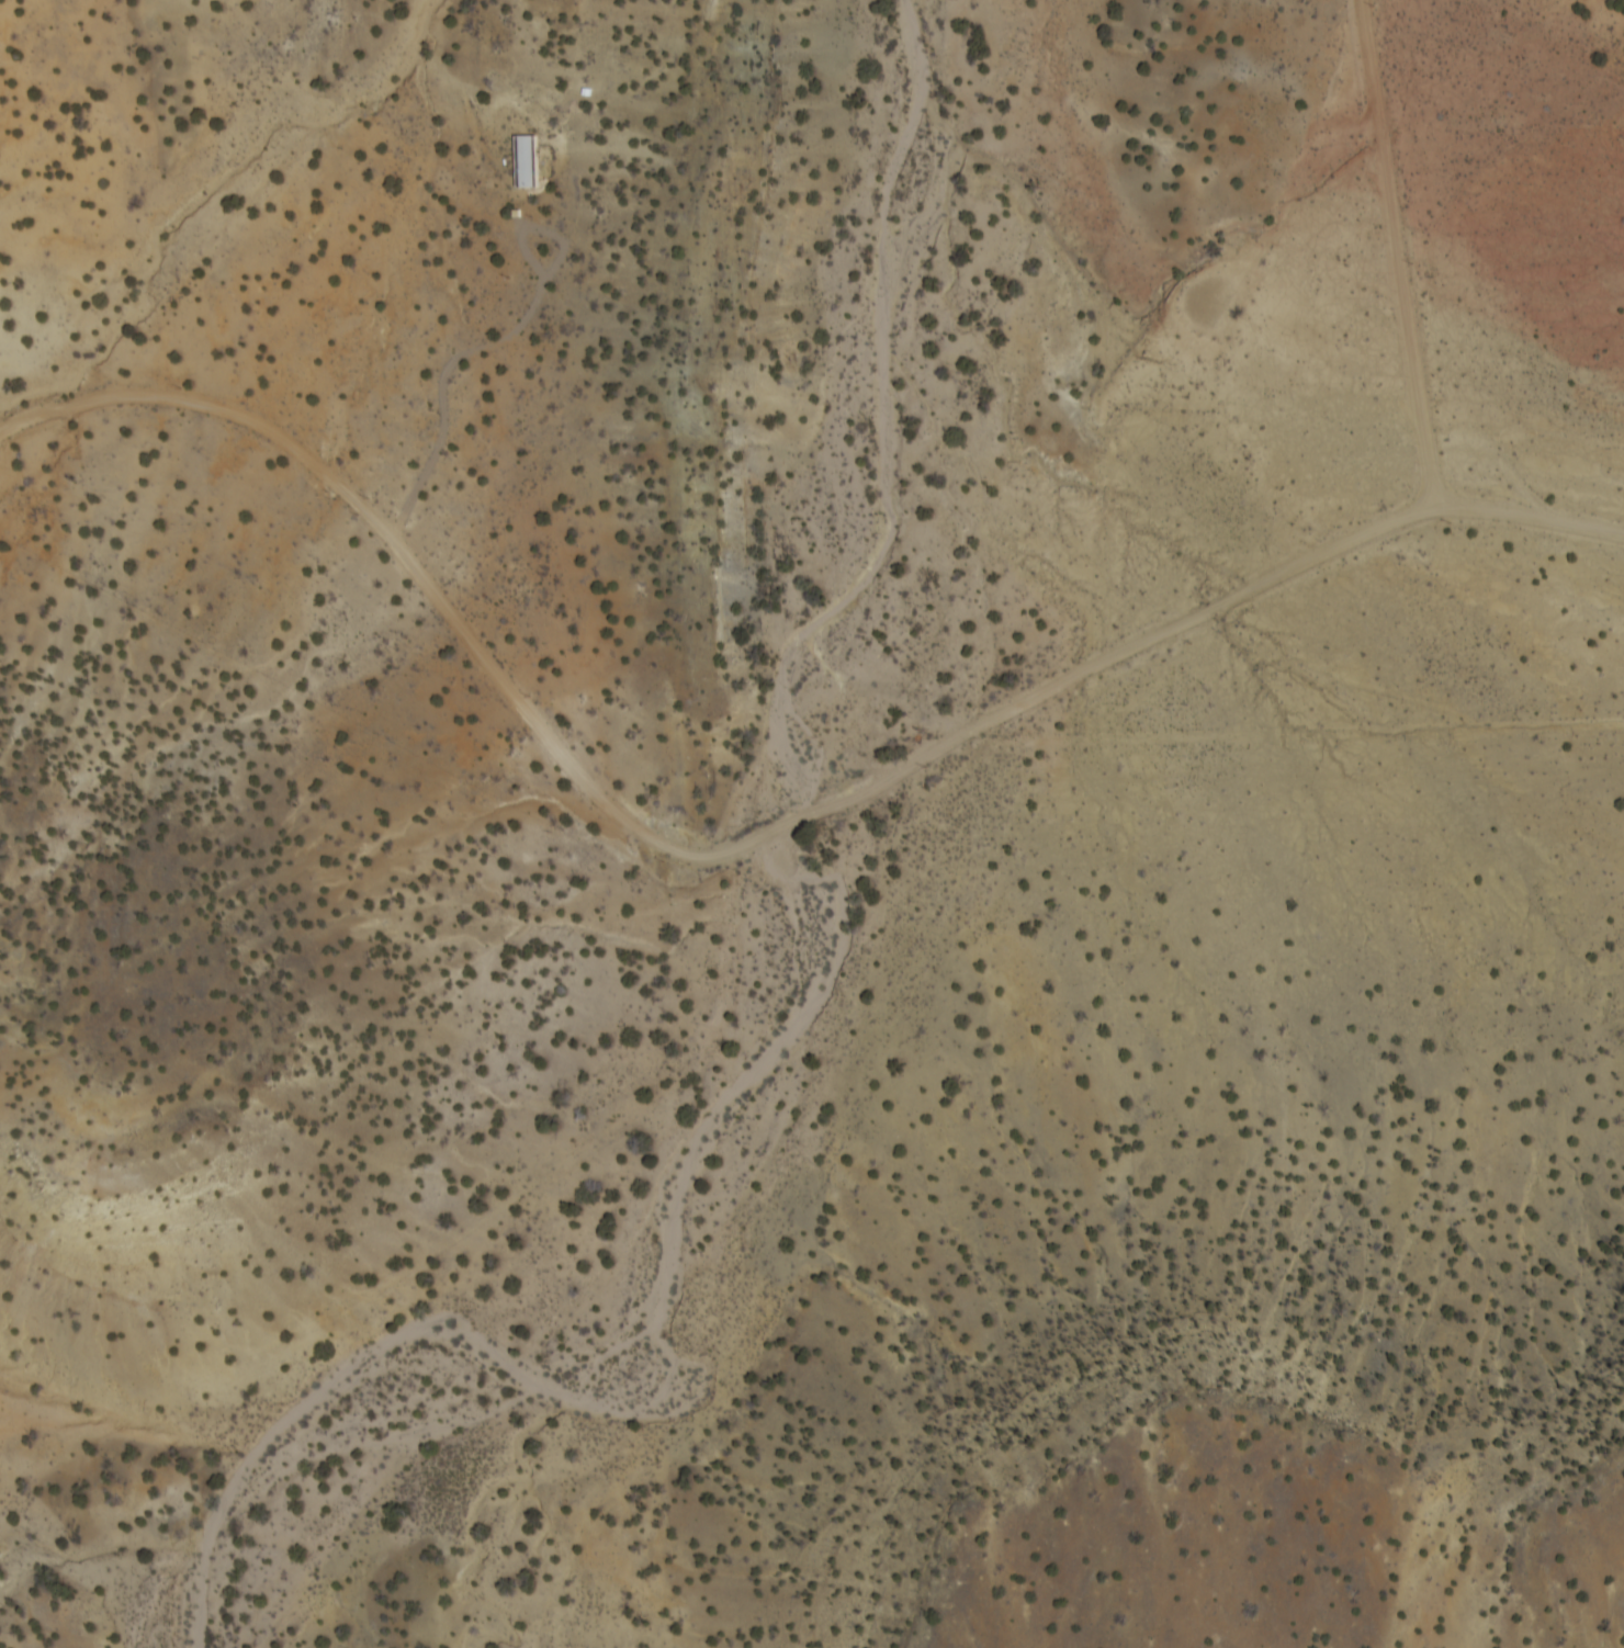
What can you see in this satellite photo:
building: (533, 150)
building: (496, 211)
road: (1402, 248)
road: (497, 335)
road: (754, 835)

